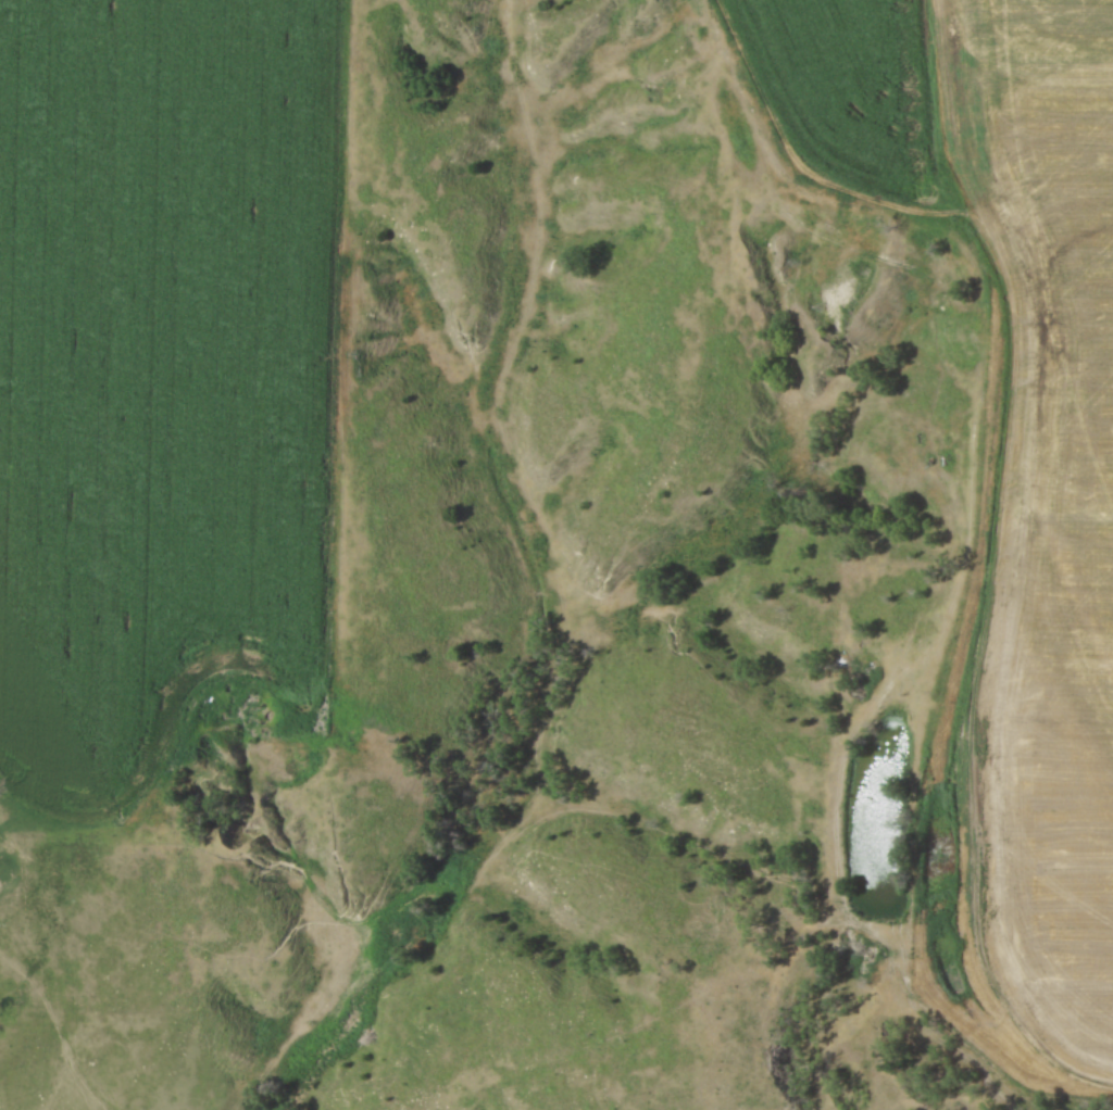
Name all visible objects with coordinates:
crop: (853, 90)
crop: (165, 376)

